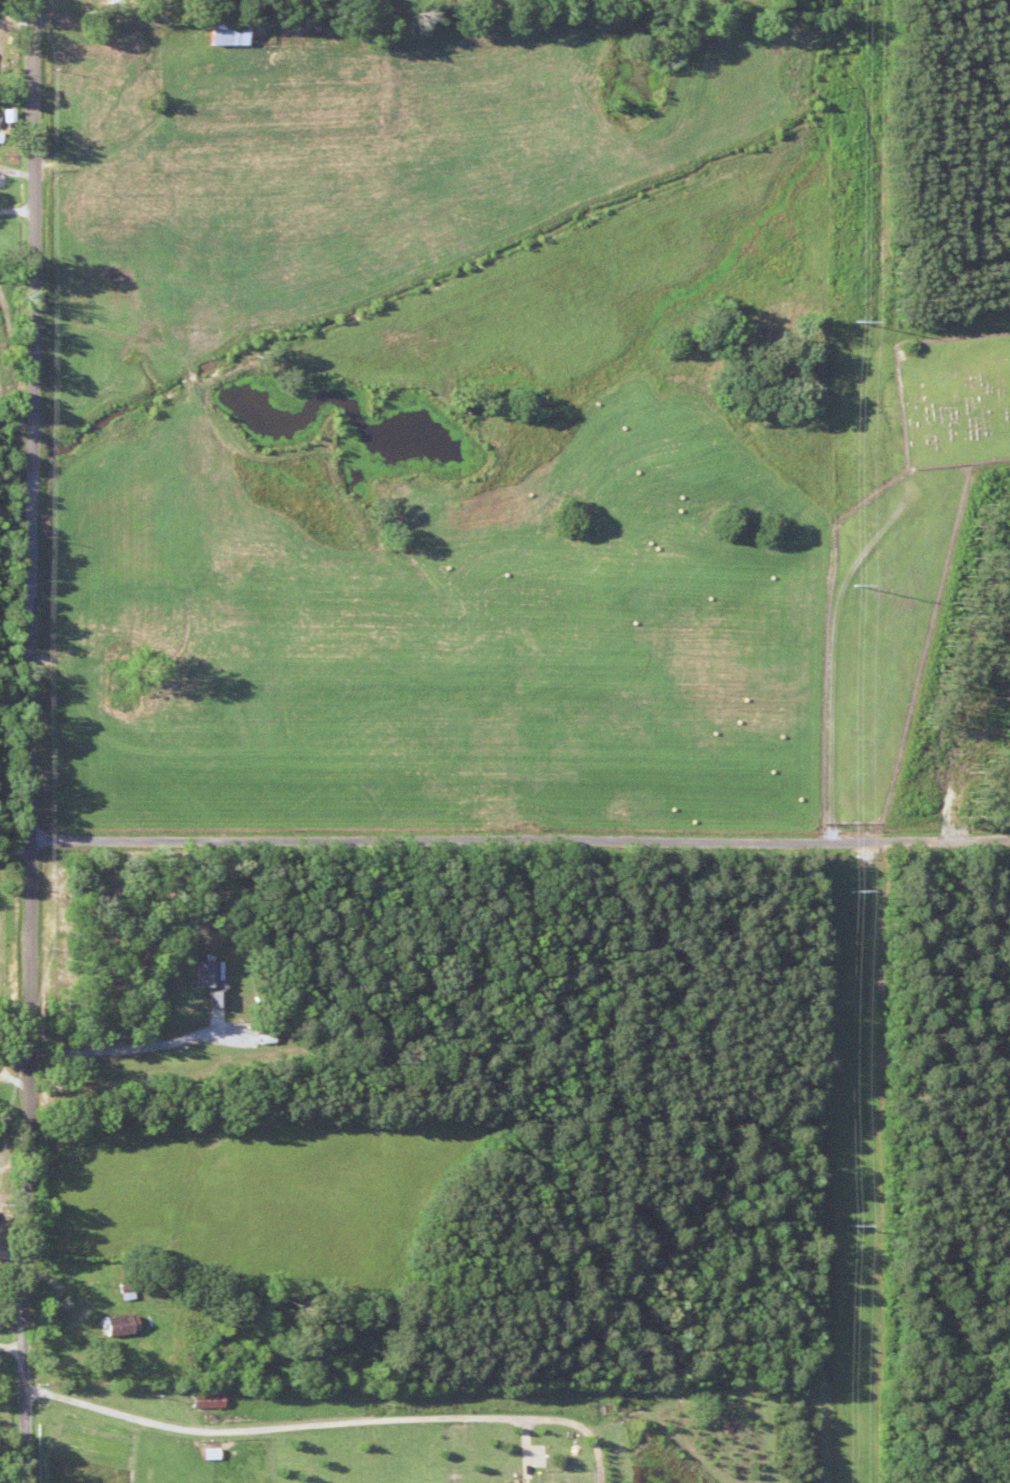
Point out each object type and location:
building: (223, 30)
road: (829, 656)
road: (32, 741)
road: (522, 868)
building: (207, 982)
building: (122, 1291)
building: (116, 1324)
building: (204, 1396)

